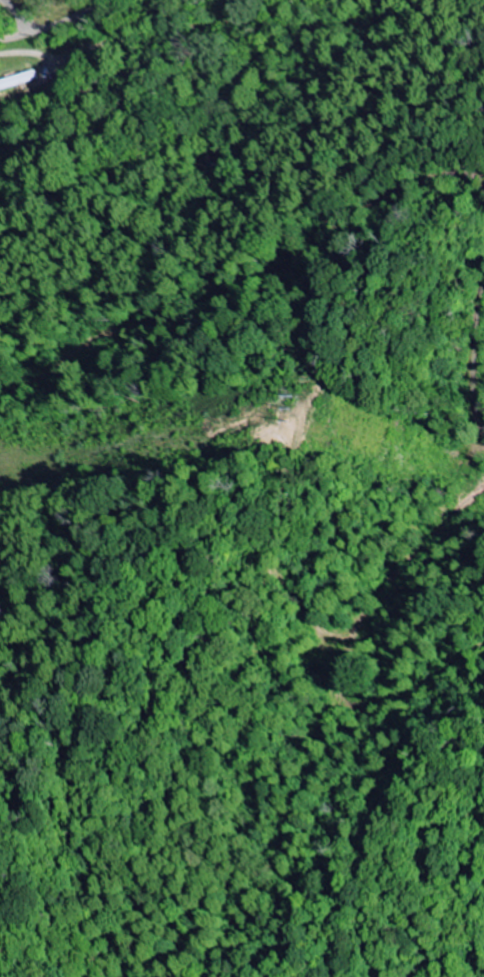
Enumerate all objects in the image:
road: (11, 17)
road: (50, 24)
building: (14, 79)
power tower: (302, 415)

